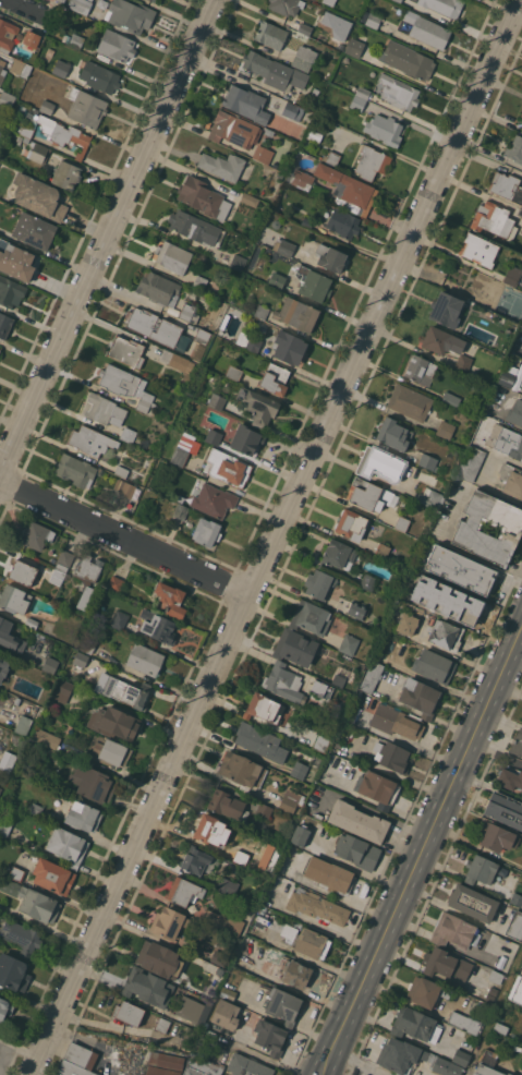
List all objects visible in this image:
building: (62, 0)
building: (157, 1)
building: (397, 1)
building: (329, 2)
building: (80, 5)
building: (104, 5)
building: (286, 5)
building: (444, 5)
building: (316, 7)
road: (31, 9)
building: (130, 15)
building: (374, 20)
building: (305, 28)
building: (424, 31)
building: (8, 33)
building: (277, 34)
building: (65, 38)
building: (32, 39)
building: (76, 40)
building: (116, 45)
building: (354, 47)
building: (304, 58)
building: (408, 60)
building: (2, 67)
building: (61, 68)
building: (274, 71)
building: (99, 76)
building: (398, 92)
building: (362, 93)
building: (7, 99)
building: (246, 102)
building: (357, 104)
building: (47, 107)
building: (86, 107)
building: (293, 111)
building: (521, 114)
building: (234, 130)
building: (384, 130)
building: (26, 132)
building: (62, 133)
building: (74, 148)
building: (514, 148)
building: (39, 153)
building: (262, 154)
building: (331, 157)
building: (372, 162)
building: (222, 165)
building: (66, 174)
building: (280, 174)
building: (301, 179)
building: (507, 186)
building: (348, 189)
building: (318, 190)
building: (38, 196)
building: (203, 197)
building: (248, 200)
building: (494, 219)
building: (340, 221)
building: (306, 222)
building: (195, 228)
building: (34, 230)
building: (521, 230)
road: (107, 237)
building: (283, 246)
building: (173, 256)
building: (330, 257)
building: (487, 257)
building: (15, 261)
building: (238, 262)
building: (277, 280)
building: (199, 282)
building: (313, 283)
building: (11, 291)
building: (166, 294)
building: (446, 309)
building: (262, 311)
building: (296, 314)
building: (4, 325)
building: (156, 328)
building: (203, 336)
building: (248, 341)
building: (446, 346)
building: (289, 347)
building: (126, 351)
building: (172, 361)
building: (420, 370)
building: (233, 373)
building: (275, 378)
building: (507, 378)
building: (125, 385)
building: (450, 398)
building: (217, 401)
building: (409, 401)
building: (257, 406)
building: (102, 409)
building: (515, 412)
building: (445, 428)
building: (128, 434)
building: (393, 434)
building: (214, 436)
building: (512, 437)
building: (246, 438)
building: (89, 440)
building: (183, 448)
building: (428, 461)
building: (454, 462)
building: (471, 462)
building: (381, 463)
building: (227, 468)
building: (76, 470)
building: (121, 471)
building: (511, 480)
building: (129, 493)
building: (368, 494)
building: (430, 497)
building: (214, 500)
building: (180, 511)
building: (401, 522)
building: (351, 524)
building: (468, 528)
building: (207, 532)
building: (38, 535)
road: (275, 536)
road: (124, 537)
building: (381, 551)
building: (339, 554)
building: (65, 558)
building: (460, 568)
building: (88, 569)
building: (23, 571)
building: (58, 575)
building: (367, 581)
building: (116, 583)
building: (319, 584)
building: (442, 595)
building: (14, 599)
building: (171, 599)
building: (406, 604)
building: (356, 609)
building: (418, 609)
building: (312, 617)
building: (119, 619)
building: (31, 621)
building: (408, 624)
building: (157, 626)
building: (446, 635)
building: (10, 637)
building: (37, 641)
building: (86, 644)
building: (349, 644)
building: (294, 647)
building: (81, 659)
building: (144, 659)
building: (50, 665)
building: (3, 666)
building: (433, 666)
building: (372, 676)
building: (342, 678)
building: (283, 683)
building: (321, 689)
building: (124, 690)
building: (62, 691)
building: (421, 697)
building: (264, 708)
building: (521, 721)
building: (113, 722)
building: (396, 722)
building: (23, 725)
building: (47, 738)
building: (260, 741)
building: (318, 741)
building: (517, 744)
building: (34, 745)
building: (108, 751)
building: (392, 757)
building: (7, 761)
building: (27, 765)
building: (242, 770)
building: (299, 770)
building: (509, 778)
building: (92, 783)
building: (377, 788)
building: (0, 789)
building: (290, 801)
building: (25, 804)
building: (227, 805)
building: (36, 809)
building: (505, 809)
building: (264, 810)
building: (83, 816)
building: (318, 816)
building: (359, 821)
building: (4, 826)
building: (208, 828)
building: (299, 835)
building: (497, 837)
building: (68, 846)
building: (356, 851)
road: (422, 856)
building: (241, 857)
building: (196, 859)
road: (357, 869)
building: (479, 870)
building: (16, 873)
building: (52, 875)
building: (333, 877)
building: (224, 884)
building: (184, 892)
building: (33, 901)
building: (473, 903)
building: (317, 907)
building: (224, 921)
building: (167, 922)
building: (515, 925)
building: (452, 930)
building: (288, 931)
building: (23, 938)
building: (311, 943)
building: (219, 957)
building: (159, 959)
building: (445, 964)
building: (13, 971)
building: (295, 975)
building: (496, 977)
building: (148, 987)
building: (426, 991)
building: (518, 992)
building: (228, 993)
building: (283, 1005)
building: (5, 1007)
building: (190, 1008)
building: (129, 1013)
building: (226, 1015)
building: (464, 1022)
building: (162, 1025)
building: (415, 1025)
building: (500, 1028)
building: (270, 1036)
building: (190, 1038)
road: (80, 1039)
building: (460, 1056)
building: (413, 1058)
building: (489, 1058)
road: (120, 1060)
building: (77, 1061)
road: (360, 1062)
building: (163, 1064)
building: (202, 1066)
building: (246, 1066)
building: (486, 1071)
building: (521, 1072)
building: (509, 1074)

